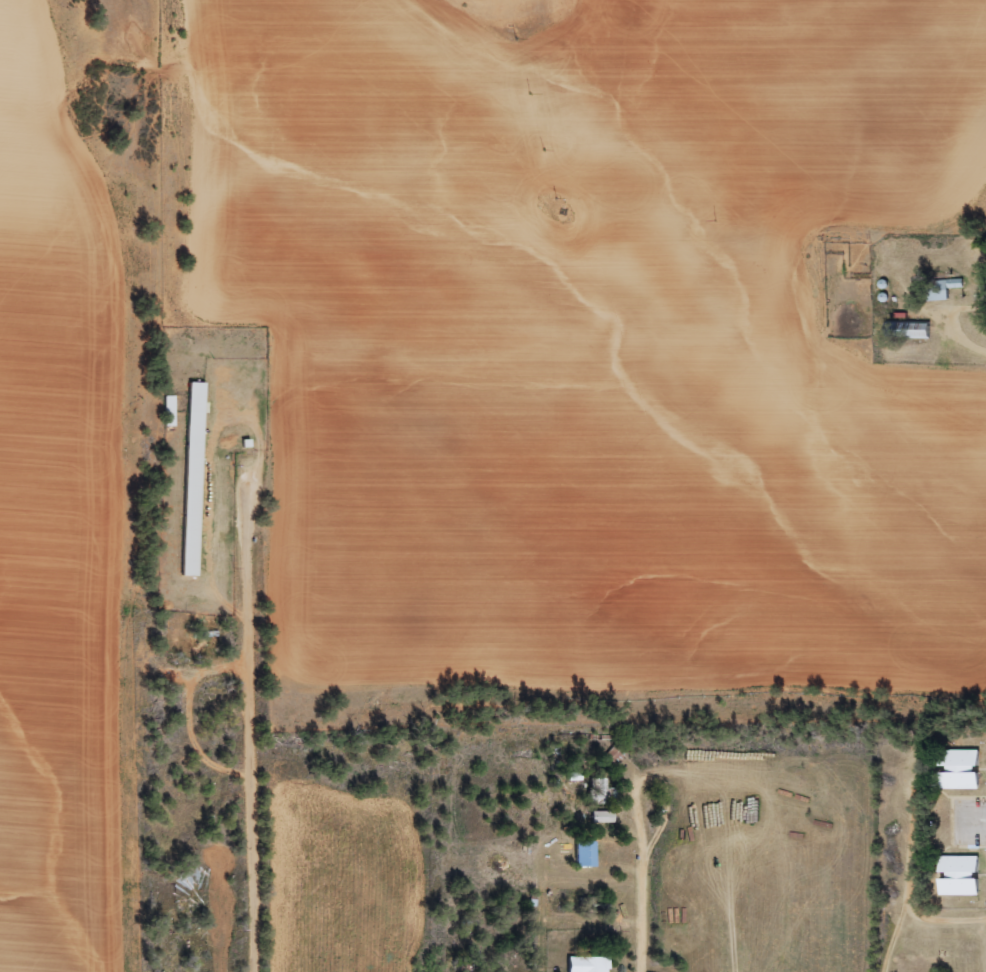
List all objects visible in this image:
building: (906, 331)
building: (168, 412)
building: (191, 480)
road: (253, 722)
building: (957, 770)
building: (600, 817)
road: (448, 827)
road: (644, 873)
road: (872, 928)

